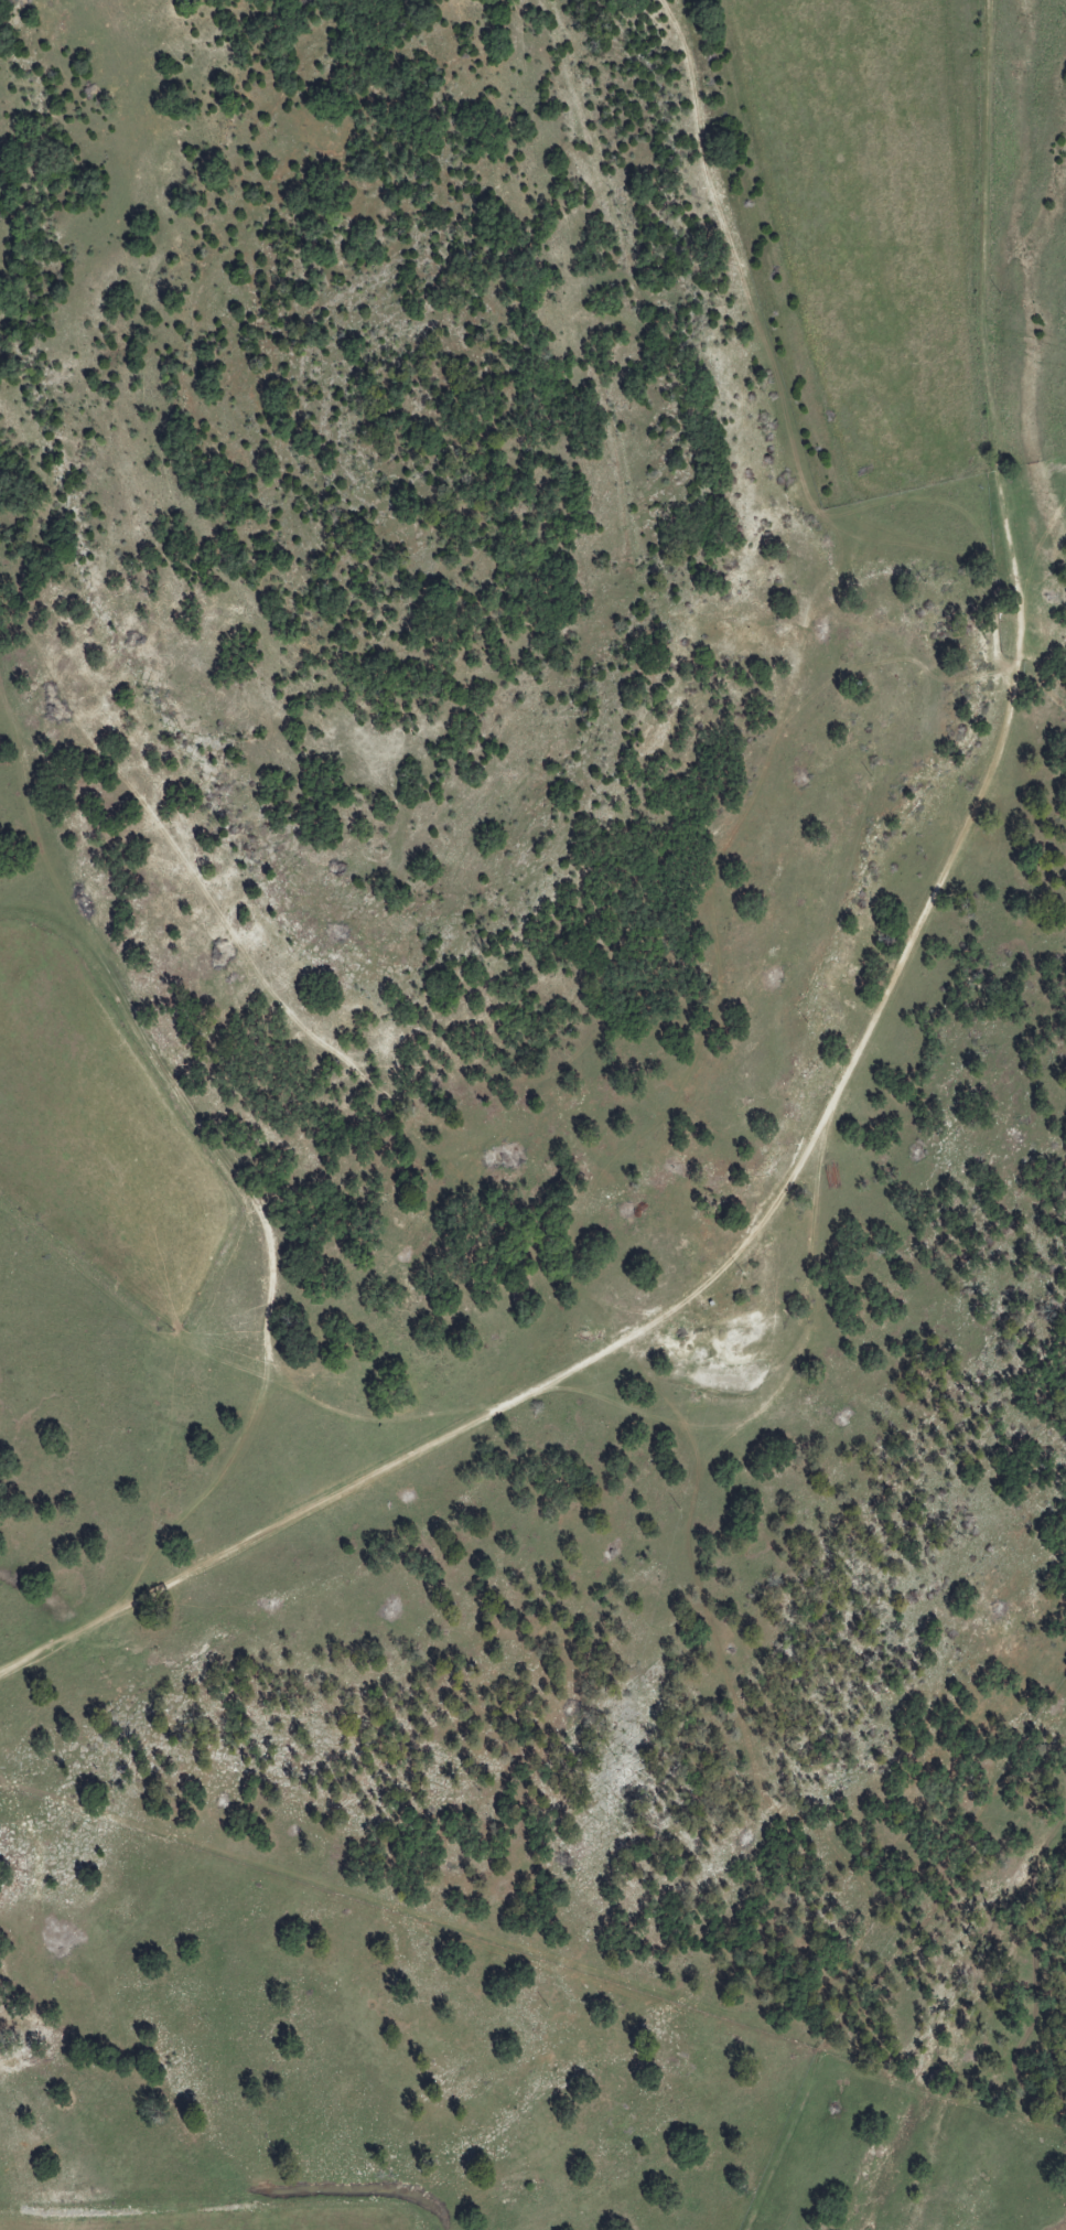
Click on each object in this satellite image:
road: (729, 1242)
road: (207, 1558)

